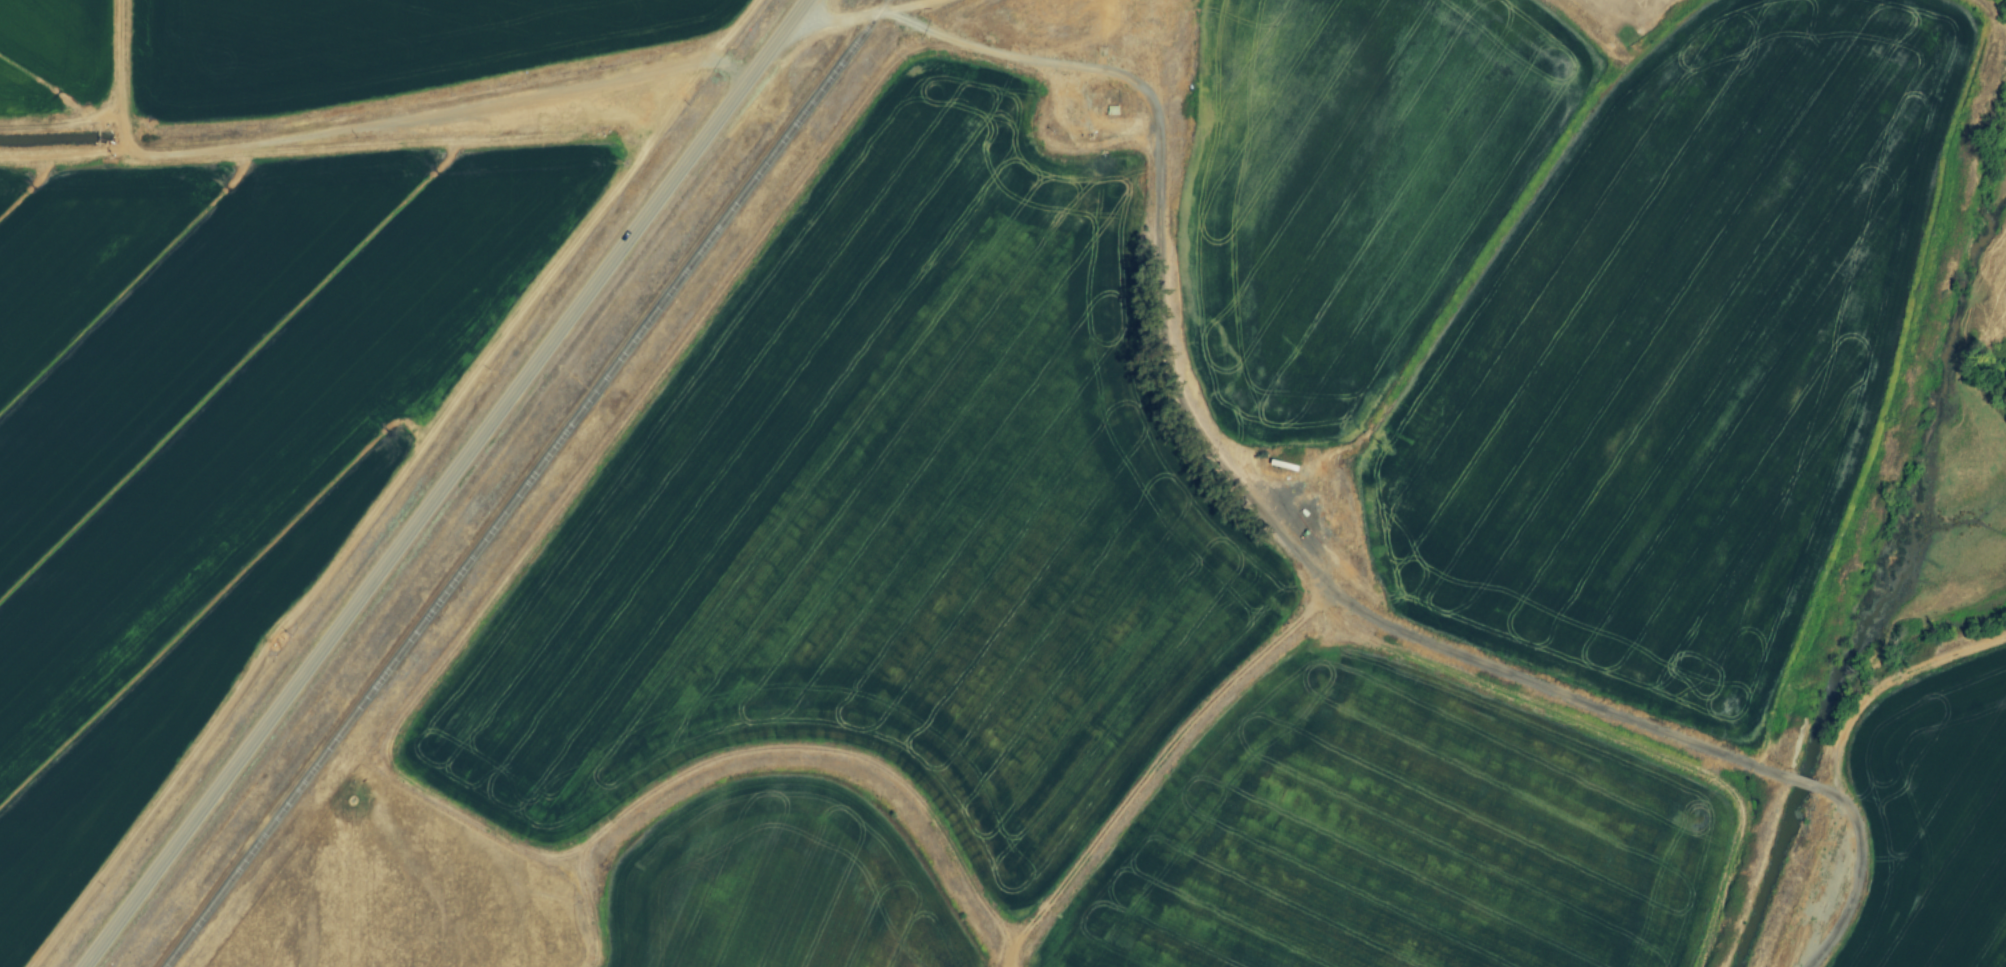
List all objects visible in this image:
road: (872, 15)
road: (125, 74)
road: (377, 125)
railway: (527, 483)
road: (450, 484)
road: (1304, 557)
road: (1888, 685)

